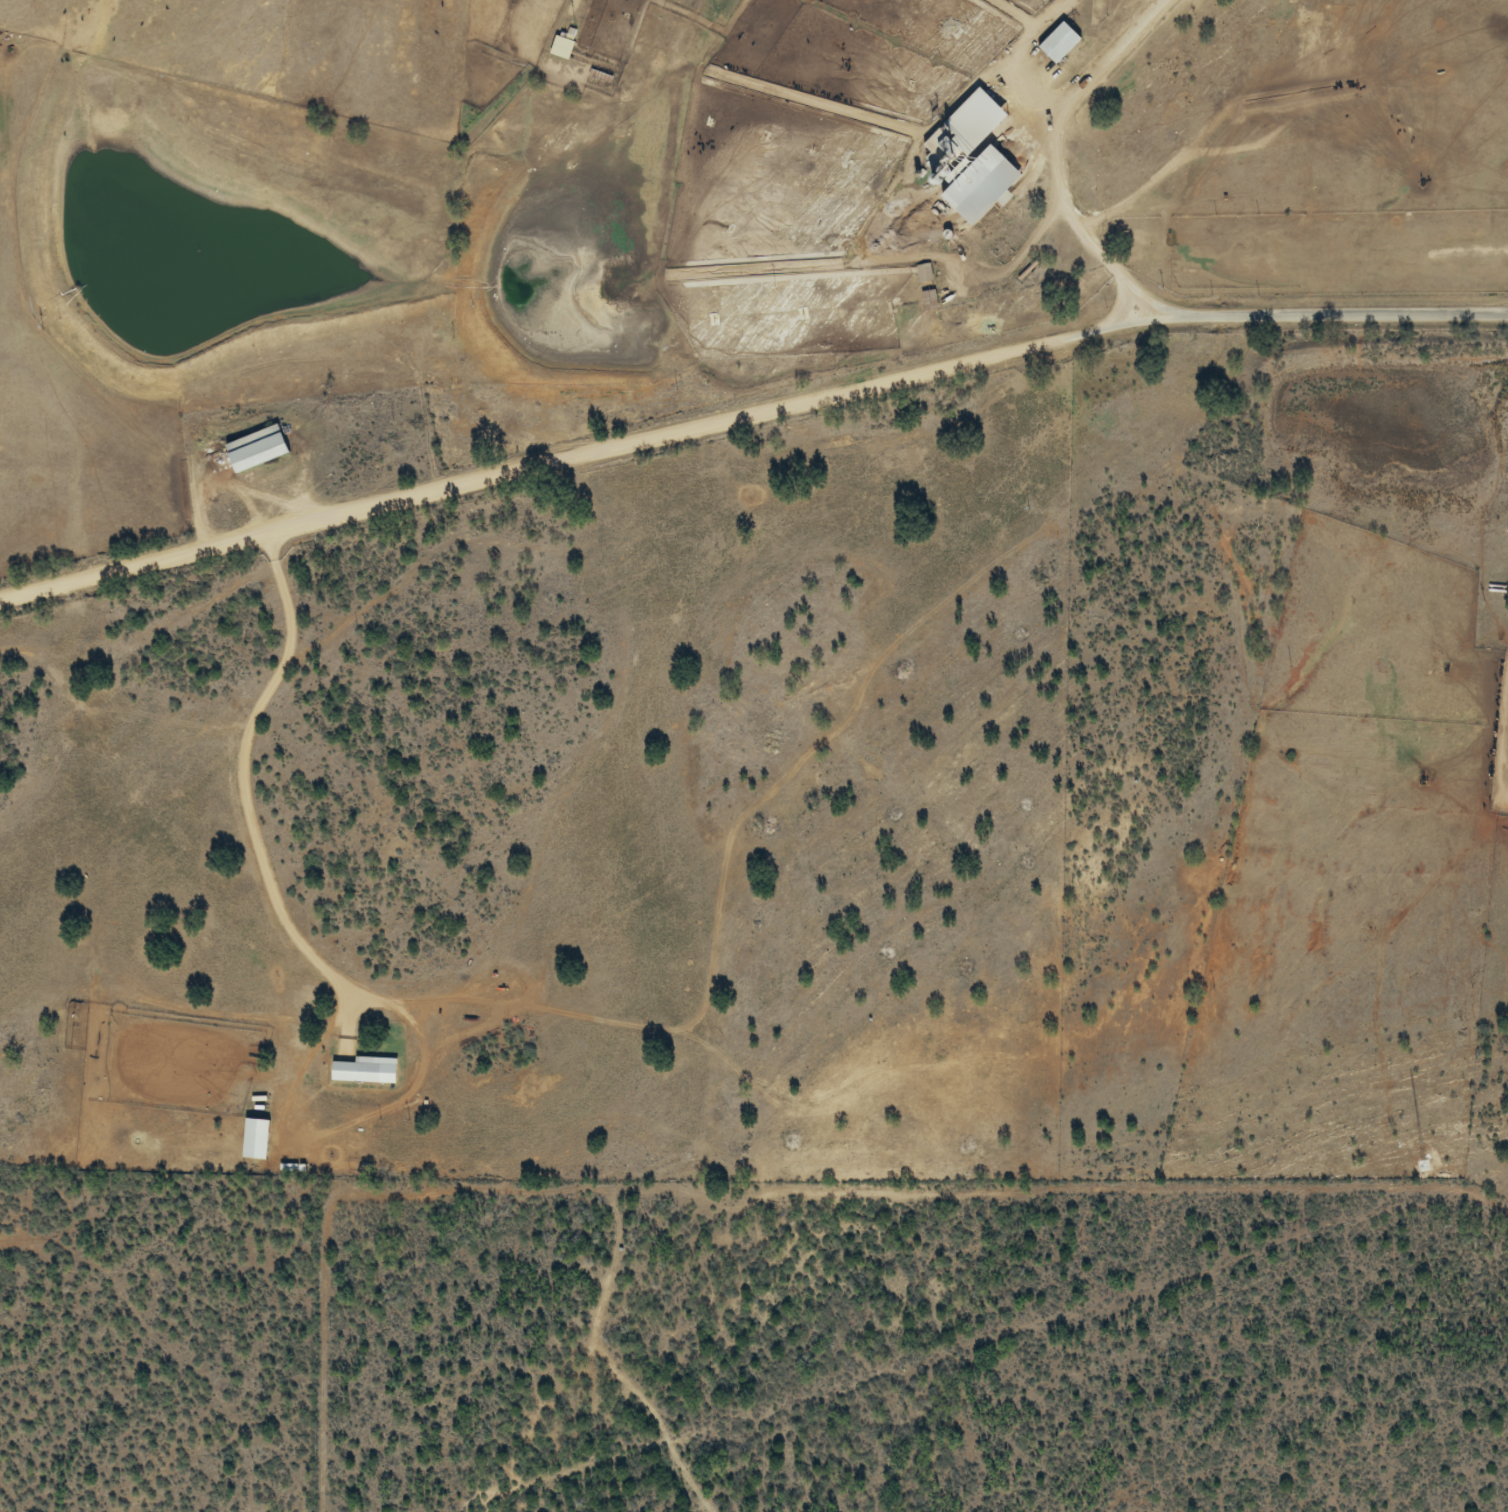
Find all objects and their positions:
building: (1054, 42)
building: (568, 46)
building: (973, 184)
road: (748, 415)
building: (263, 448)
building: (362, 1070)

